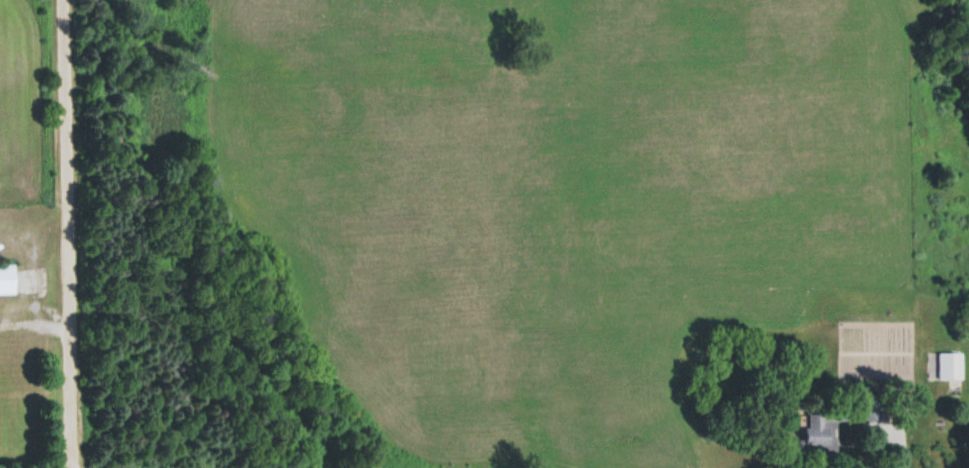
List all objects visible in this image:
road: (66, 234)
building: (7, 280)
building: (948, 366)
building: (817, 429)

